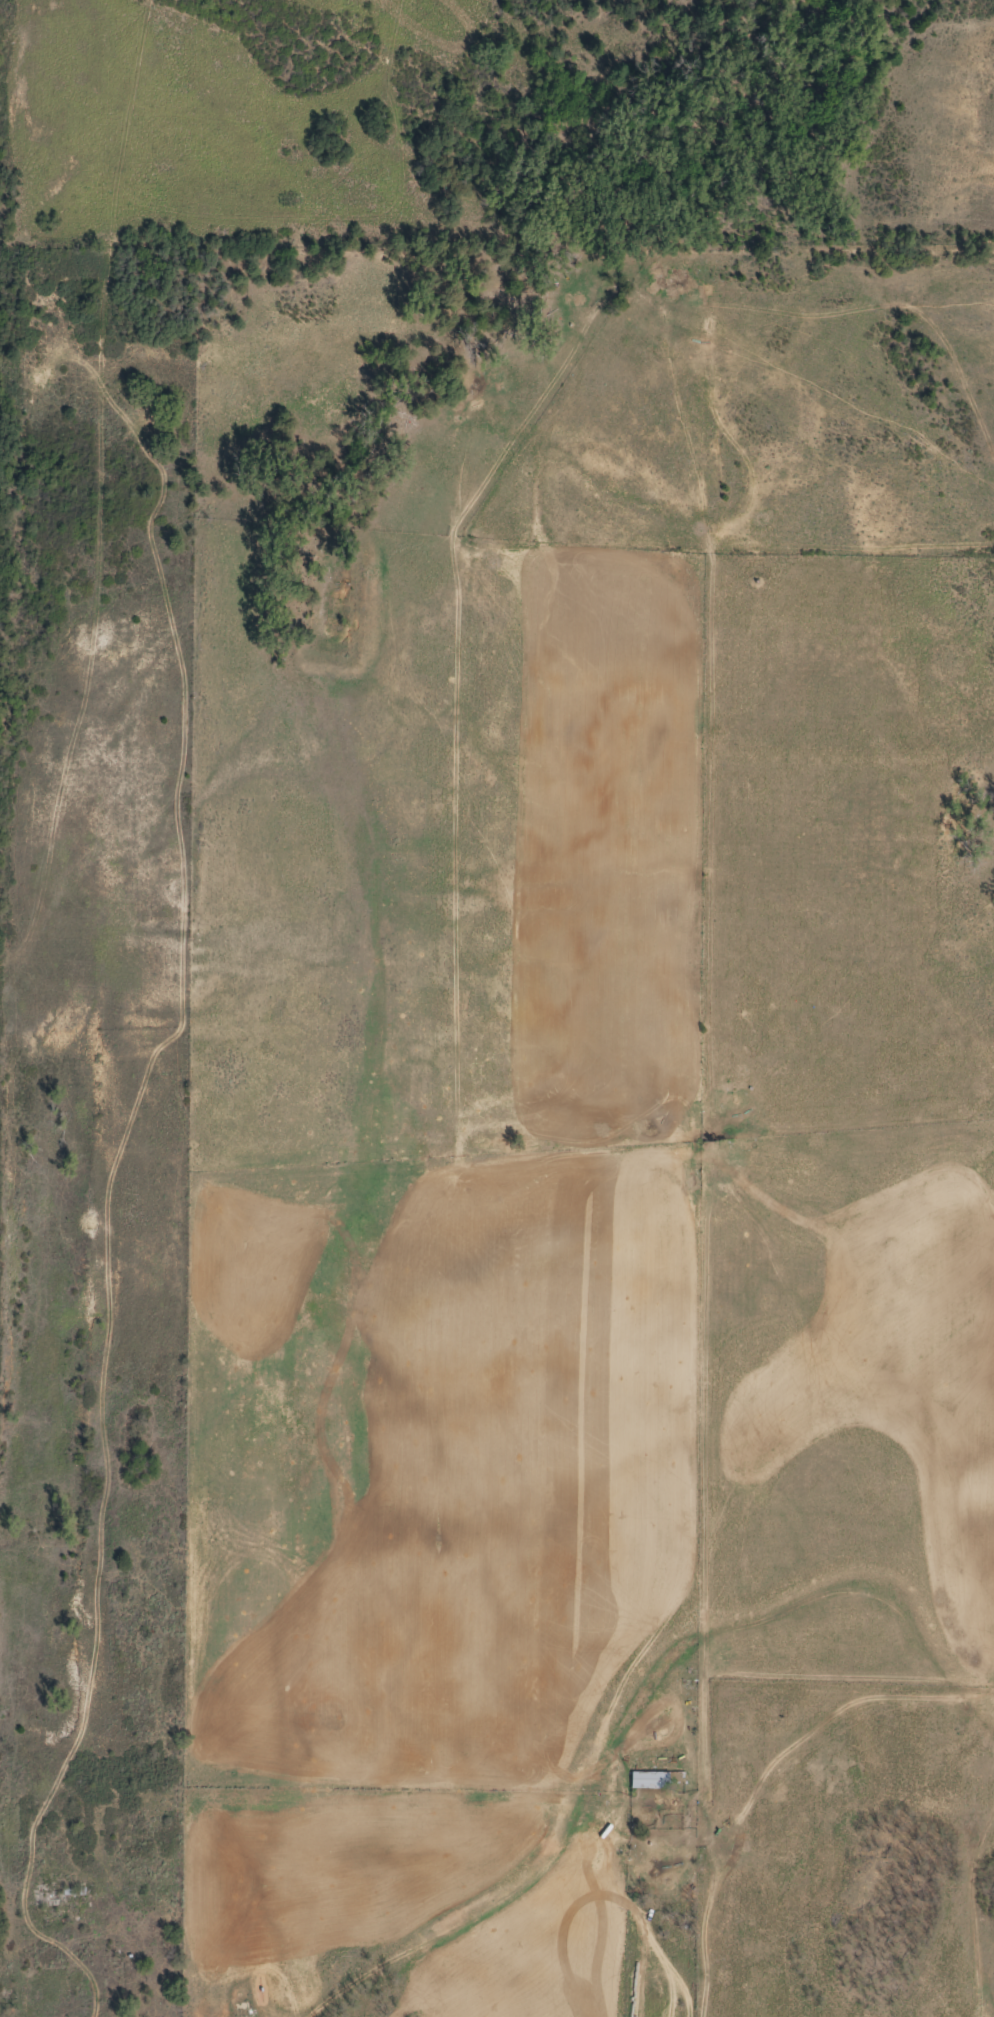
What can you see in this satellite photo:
building: (650, 1778)
road: (487, 1907)

